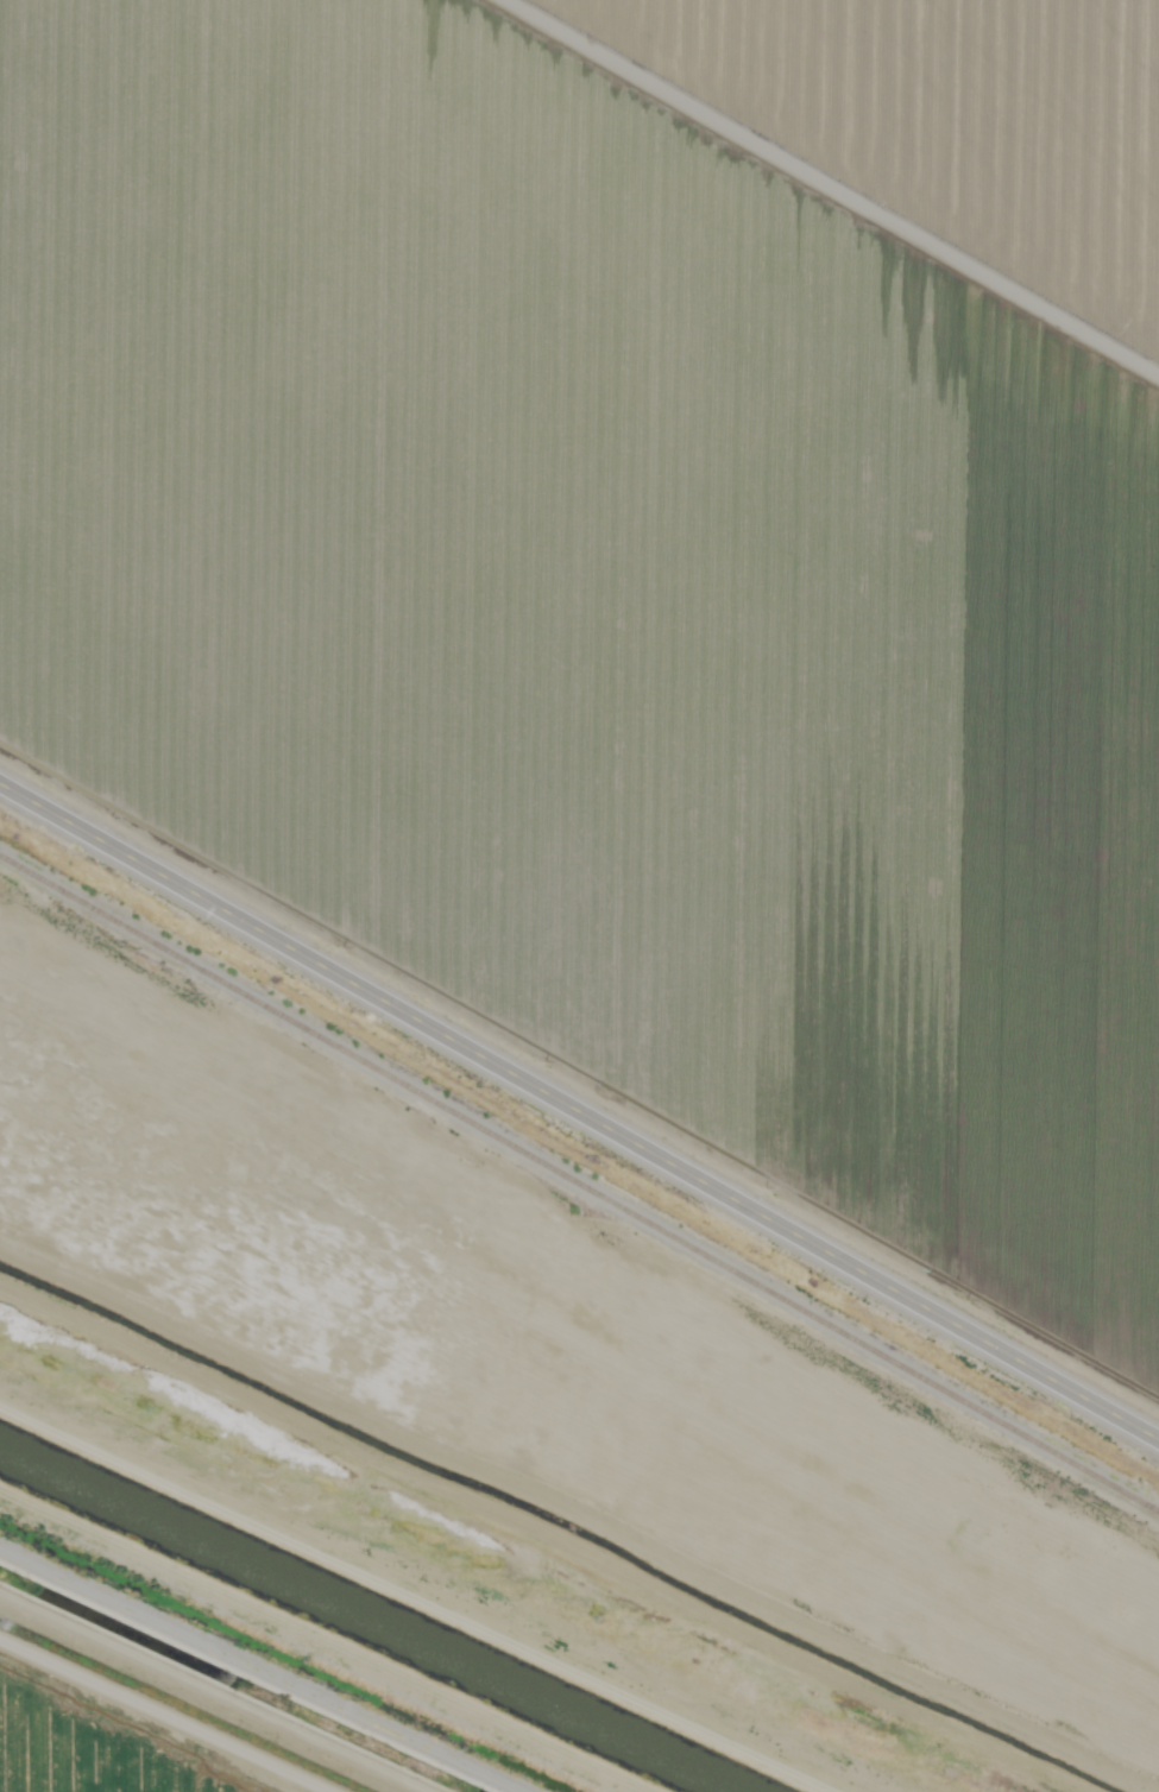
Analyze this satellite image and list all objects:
crop: (637, 563)
road: (579, 1113)
railway: (579, 1184)
road: (502, 1561)
road: (232, 1683)
crop: (99, 1746)

